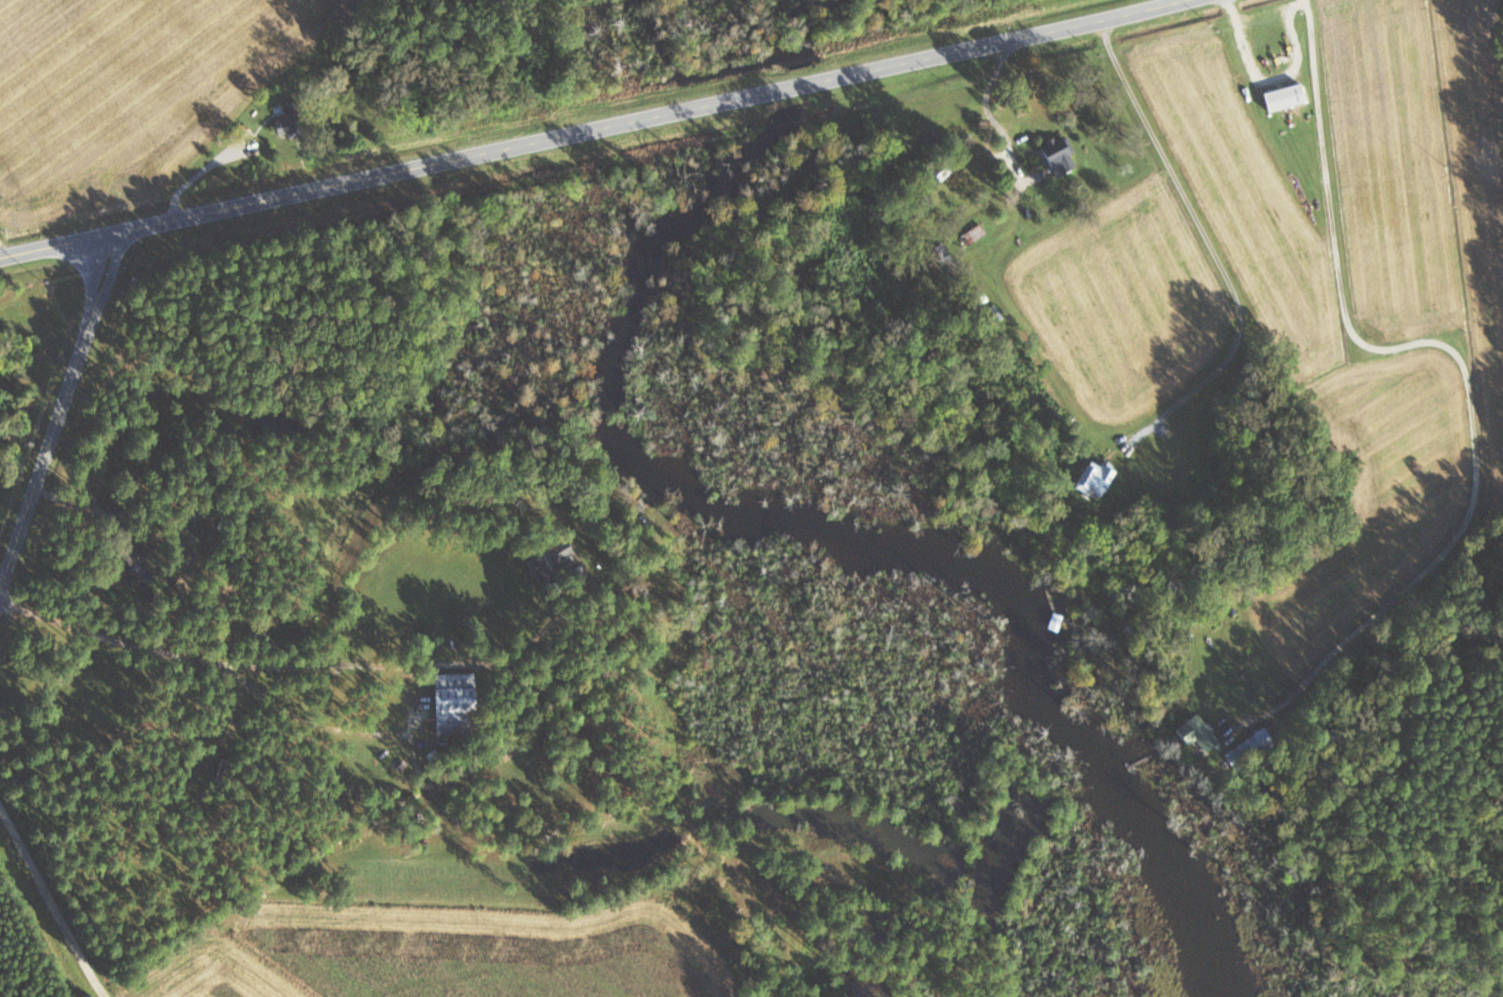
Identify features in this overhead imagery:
building: (1280, 97)
building: (286, 123)
road: (593, 129)
building: (1058, 161)
building: (939, 168)
building: (938, 252)
building: (974, 298)
road: (55, 410)
building: (1091, 479)
building: (548, 563)
road: (220, 661)
building: (1206, 700)
building: (448, 705)
road: (227, 712)
road: (358, 730)
building: (1191, 736)
road: (51, 907)

